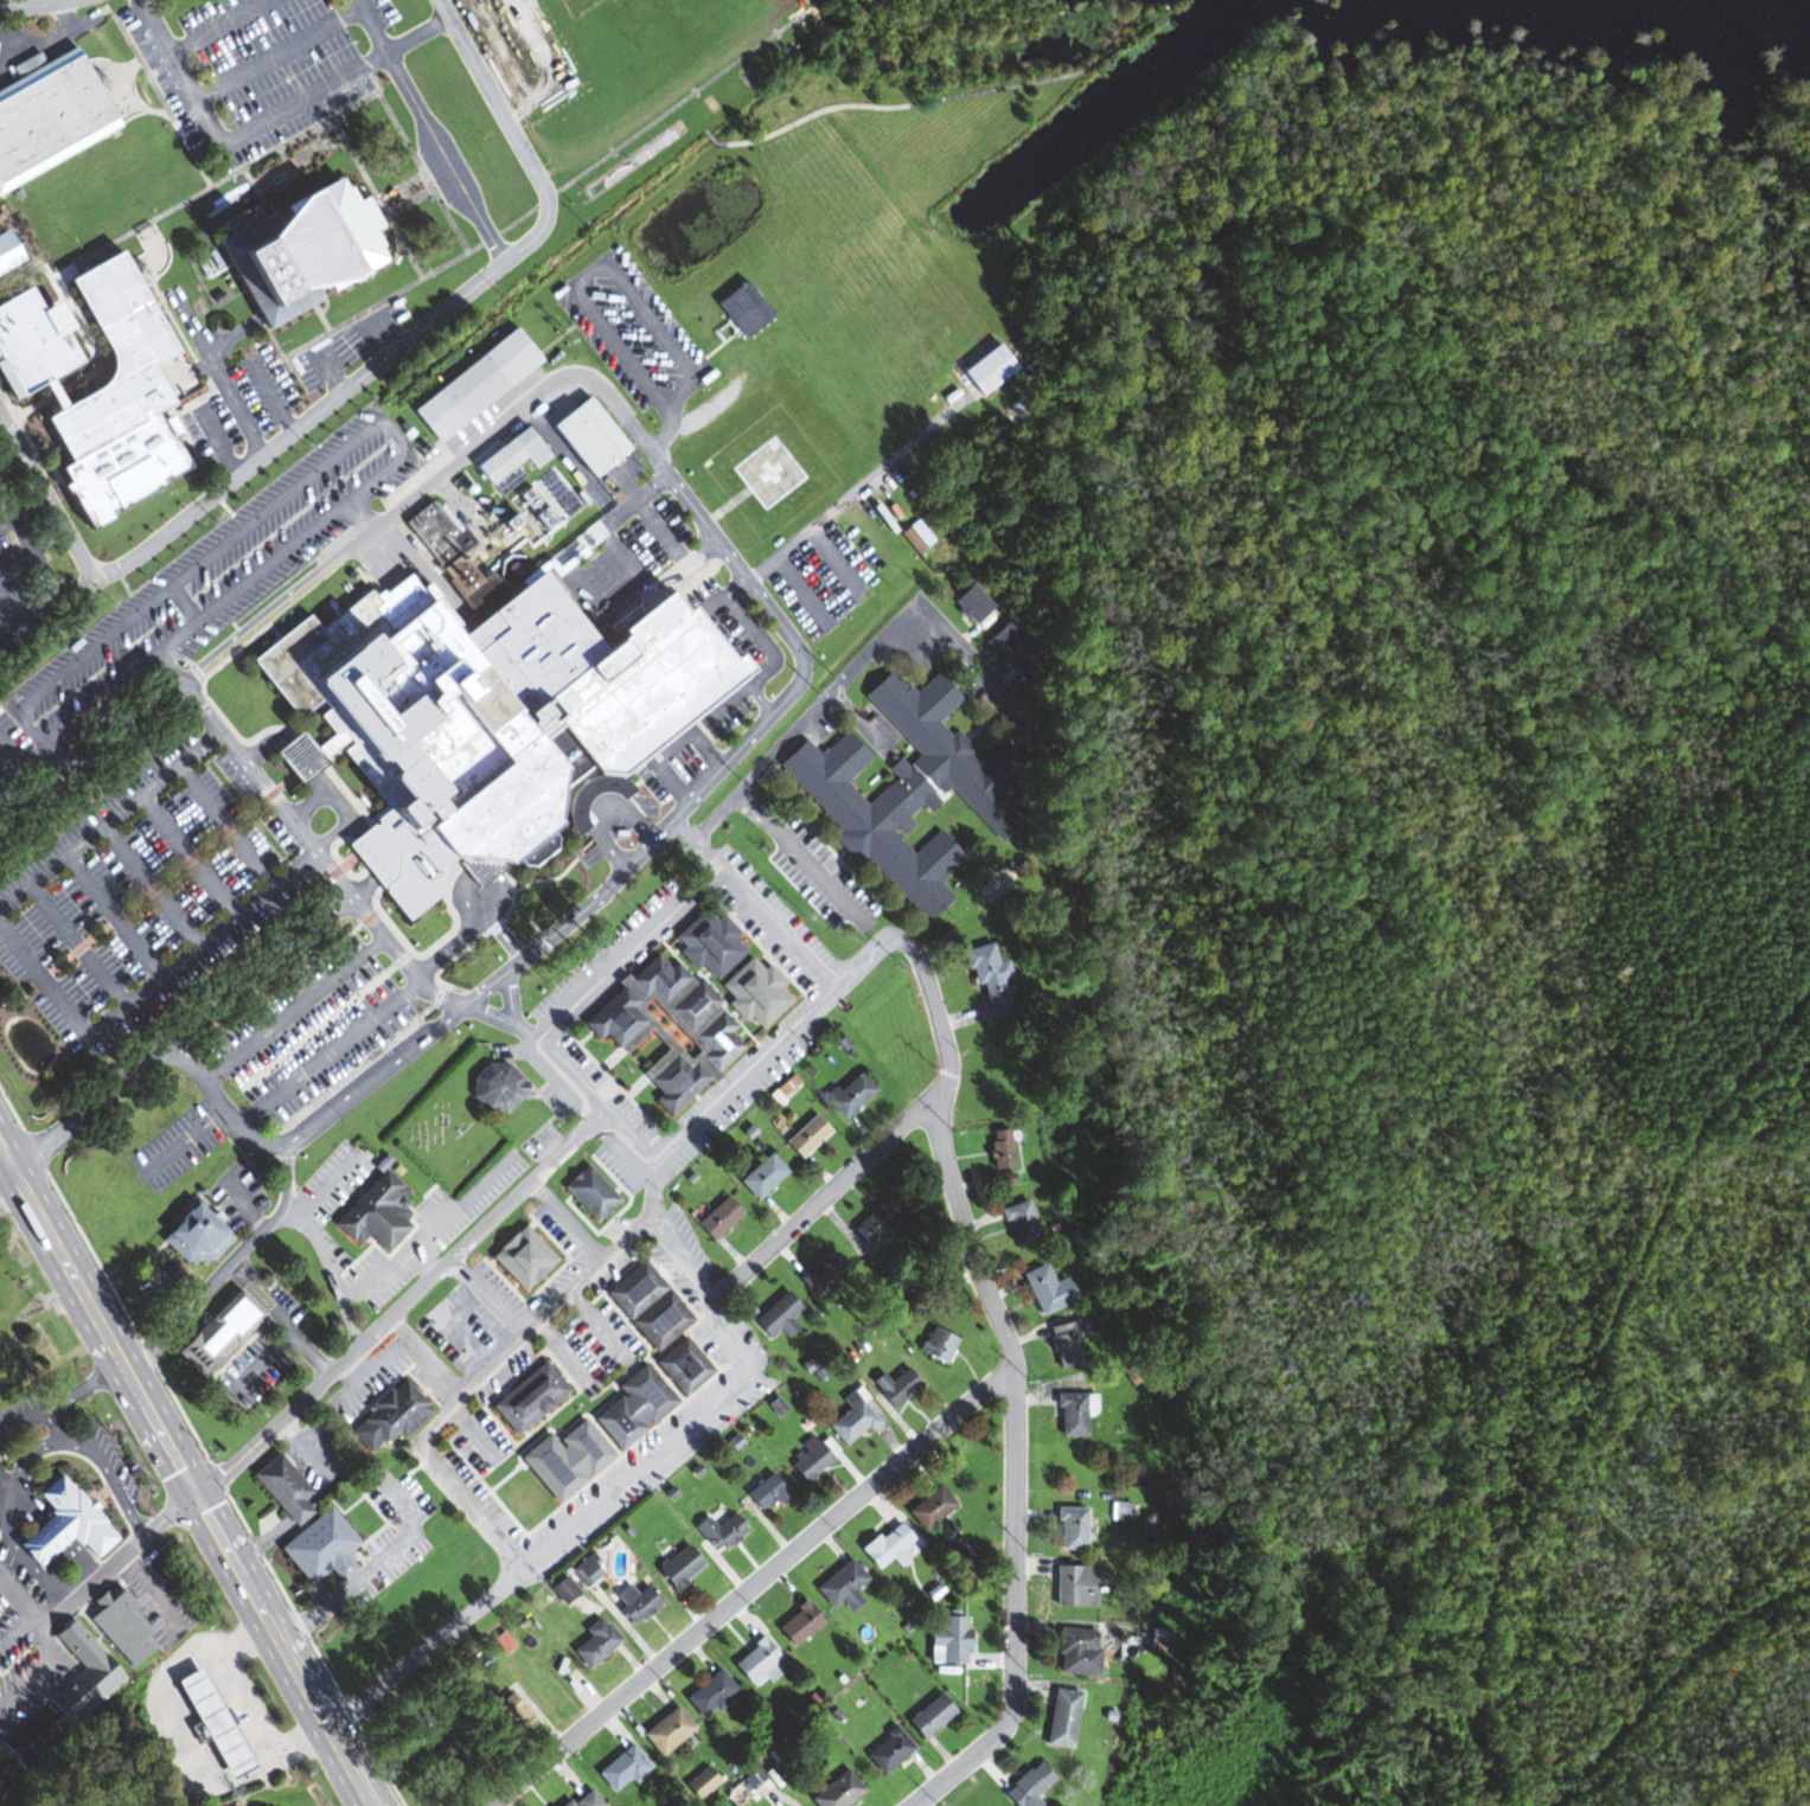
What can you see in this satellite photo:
road: (36, 5)
parking lot: (377, 12)
road: (369, 25)
road: (216, 26)
parking lot: (1, 39)
road: (47, 40)
road: (15, 51)
road: (276, 55)
parking lot: (251, 71)
road: (952, 94)
building: (51, 115)
road: (266, 115)
road: (699, 123)
road: (709, 136)
road: (442, 159)
building: (307, 250)
building: (11, 252)
road: (191, 324)
road: (382, 333)
building: (38, 345)
parking lot: (350, 348)
building: (987, 370)
road: (331, 371)
road: (359, 382)
road: (222, 385)
building: (474, 385)
parking lot: (268, 390)
road: (270, 398)
building: (128, 399)
building: (1021, 408)
road: (8, 425)
parking lot: (213, 434)
building: (587, 437)
road: (217, 440)
building: (510, 456)
airport: (769, 468)
helipad: (769, 470)
road: (725, 504)
road: (6, 520)
road: (653, 530)
building: (436, 533)
building: (915, 536)
road: (27, 545)
road: (616, 557)
road: (17, 568)
parking lot: (28, 572)
road: (574, 585)
road: (45, 600)
building: (971, 604)
building: (1013, 648)
road: (857, 657)
road: (801, 661)
road: (754, 675)
road: (756, 699)
road: (90, 707)
building: (482, 721)
road: (703, 751)
road: (665, 787)
building: (907, 792)
road: (769, 824)
road: (753, 903)
building: (709, 943)
road: (859, 959)
building: (987, 979)
road: (587, 988)
building: (754, 993)
building: (669, 1029)
road: (184, 1032)
building: (494, 1088)
building: (849, 1095)
building: (806, 1138)
building: (999, 1151)
building: (761, 1177)
road: (838, 1185)
road: (519, 1189)
road: (11, 1190)
building: (590, 1193)
building: (377, 1213)
building: (718, 1219)
building: (876, 1222)
building: (1021, 1224)
building: (194, 1235)
road: (605, 1253)
building: (522, 1257)
road: (684, 1260)
building: (820, 1273)
building: (1047, 1291)
road: (482, 1293)
building: (647, 1305)
building: (778, 1315)
road: (532, 1318)
road: (723, 1331)
building: (218, 1333)
building: (1066, 1345)
building: (936, 1346)
road: (423, 1354)
building: (682, 1366)
road: (1013, 1373)
building: (895, 1386)
building: (529, 1397)
building: (633, 1407)
building: (1072, 1415)
building: (389, 1416)
building: (850, 1421)
road: (468, 1432)
building: (565, 1460)
building: (808, 1461)
road: (635, 1469)
road: (187, 1472)
road: (444, 1479)
building: (283, 1488)
traffic signals: (199, 1493)
building: (766, 1493)
building: (929, 1507)
building: (1120, 1511)
building: (63, 1523)
building: (1070, 1529)
building: (719, 1531)
building: (887, 1546)
building: (320, 1548)
building: (678, 1567)
building: (584, 1571)
road: (369, 1573)
road: (751, 1584)
building: (1075, 1584)
building: (842, 1586)
building: (1160, 1586)
building: (562, 1589)
building: (634, 1602)
building: (798, 1624)
building: (121, 1626)
building: (948, 1640)
road: (426, 1642)
building: (594, 1642)
building: (1077, 1651)
building: (757, 1664)
building: (82, 1673)
building: (710, 1692)
road: (244, 1703)
building: (503, 1711)
building: (929, 1716)
building: (1061, 1717)
building: (212, 1721)
building: (666, 1730)
building: (31, 1736)
building: (436, 1740)
building: (887, 1749)
building: (623, 1767)
building: (5, 1778)
building: (701, 1782)
building: (754, 1782)
building: (1028, 1786)
building: (837, 1791)
building: (582, 1800)

